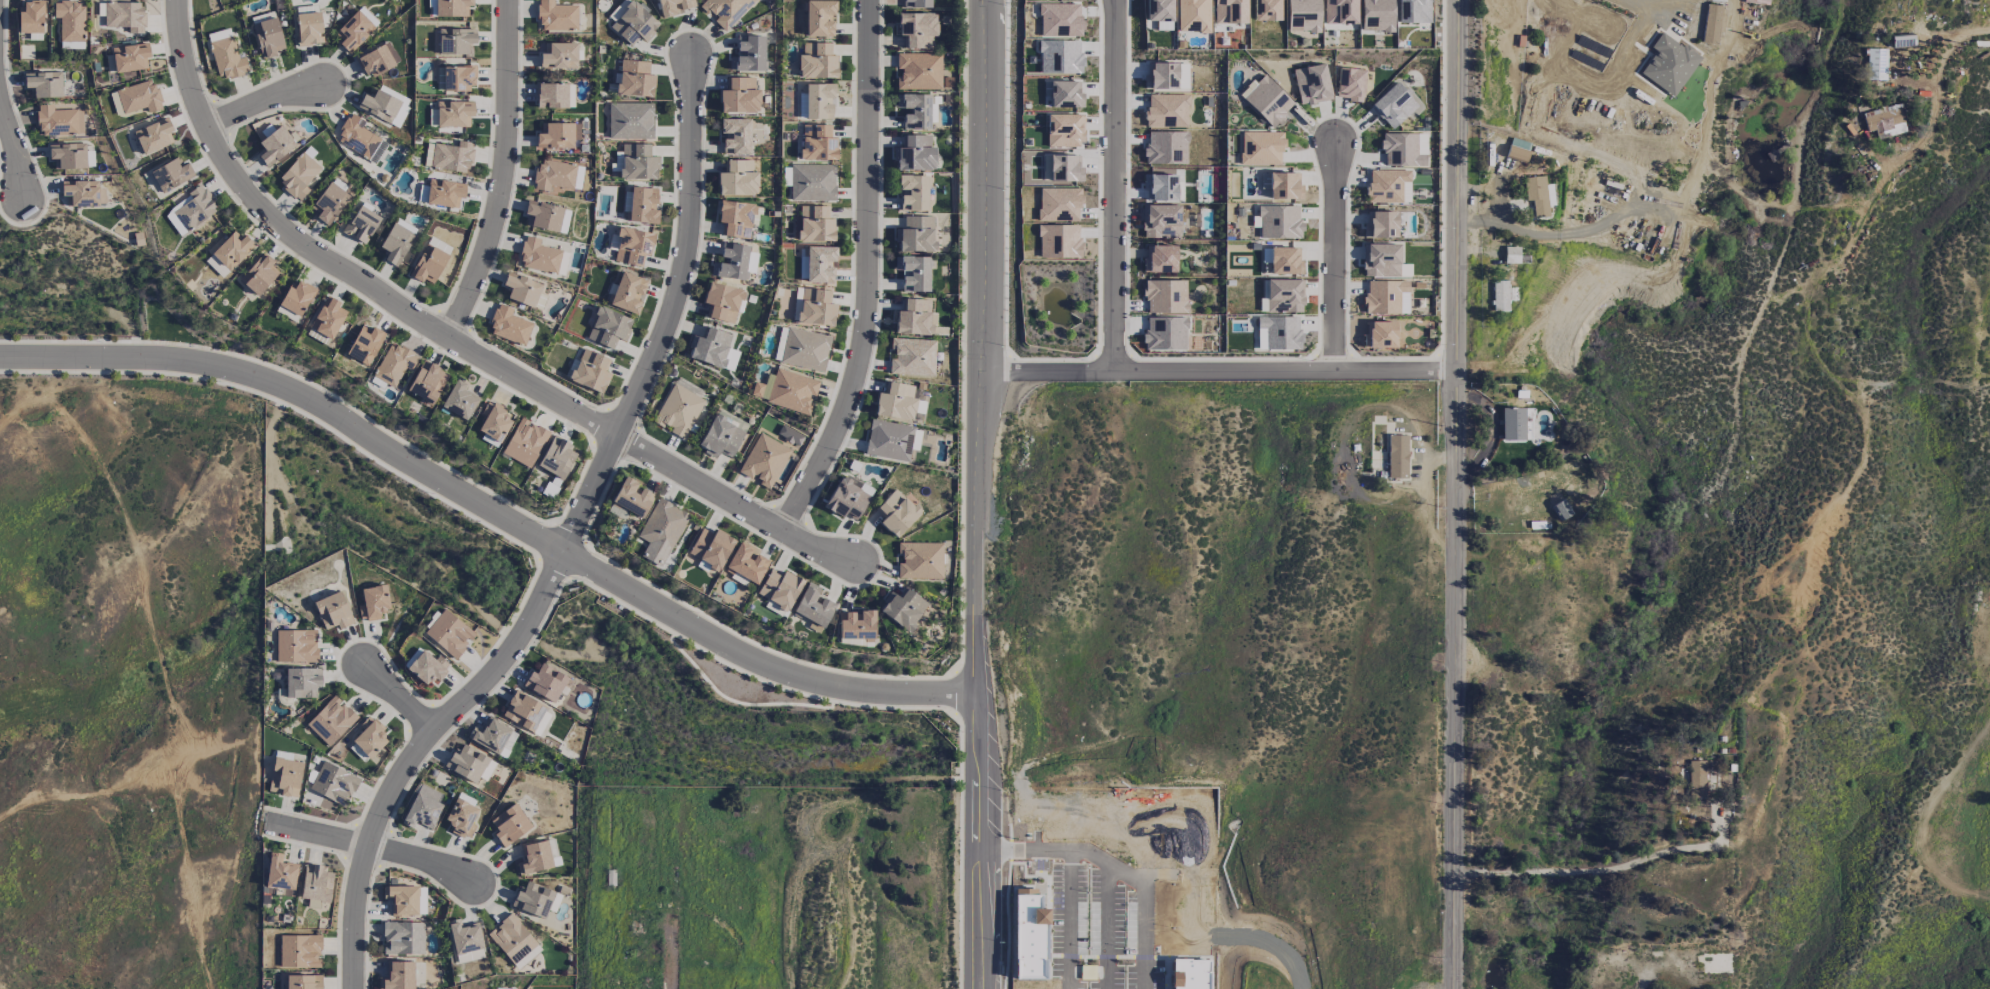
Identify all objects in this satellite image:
building: (1757, 1)
building: (917, 3)
building: (674, 6)
building: (452, 7)
road: (1649, 8)
building: (724, 10)
building: (1158, 10)
building: (1266, 10)
building: (1230, 11)
building: (1339, 11)
building: (1413, 11)
building: (1193, 15)
building: (1303, 15)
building: (1376, 15)
building: (124, 16)
building: (556, 16)
building: (30, 17)
building: (819, 18)
building: (1060, 19)
building: (70, 20)
building: (633, 24)
building: (1711, 24)
building: (308, 29)
building: (917, 30)
building: (353, 31)
building: (218, 34)
building: (267, 37)
building: (455, 40)
building: (748, 53)
building: (558, 55)
building: (130, 57)
building: (1059, 57)
building: (227, 58)
building: (374, 61)
building: (816, 61)
building: (1669, 64)
building: (1875, 64)
building: (919, 71)
building: (1161, 76)
building: (458, 78)
building: (634, 79)
building: (44, 84)
building: (1312, 84)
building: (1350, 84)
road: (1931, 89)
building: (1065, 94)
building: (554, 95)
building: (739, 96)
building: (139, 97)
building: (818, 100)
building: (1268, 101)
road: (263, 102)
building: (379, 105)
building: (1393, 105)
building: (914, 110)
building: (1167, 111)
building: (454, 113)
building: (59, 121)
building: (630, 121)
building: (1884, 121)
building: (1064, 130)
building: (153, 135)
building: (557, 135)
building: (360, 139)
building: (817, 142)
building: (275, 145)
road: (14, 147)
building: (1166, 147)
building: (1261, 148)
building: (1404, 149)
building: (914, 153)
building: (1516, 153)
building: (428, 154)
building: (67, 155)
building: (452, 156)
building: (638, 162)
building: (1062, 168)
road: (502, 173)
building: (171, 174)
road: (9, 175)
building: (553, 175)
building: (298, 176)
building: (578, 177)
building: (737, 178)
building: (812, 182)
road: (1113, 183)
building: (1284, 185)
building: (1388, 186)
building: (1160, 187)
building: (912, 192)
building: (82, 193)
building: (445, 193)
building: (1536, 194)
building: (1549, 194)
building: (328, 203)
building: (1059, 204)
building: (642, 205)
building: (190, 210)
building: (543, 216)
building: (735, 219)
building: (1160, 221)
building: (1279, 222)
building: (361, 224)
building: (1380, 224)
park: (2, 228)
building: (915, 235)
building: (1059, 241)
building: (395, 244)
building: (439, 245)
building: (232, 250)
building: (1511, 255)
building: (538, 256)
building: (1160, 258)
road: (1333, 258)
building: (1285, 260)
building: (1380, 260)
building: (730, 262)
building: (751, 262)
building: (428, 264)
building: (820, 264)
building: (216, 266)
building: (1405, 269)
building: (913, 273)
building: (258, 274)
road: (866, 275)
building: (521, 289)
building: (626, 293)
building: (1284, 295)
building: (1502, 295)
building: (1165, 296)
building: (296, 297)
building: (1386, 297)
building: (721, 302)
building: (816, 307)
building: (286, 313)
building: (327, 317)
building: (914, 317)
building: (508, 325)
building: (608, 328)
road: (963, 328)
building: (1165, 333)
building: (1380, 334)
building: (317, 336)
road: (452, 340)
building: (364, 344)
building: (778, 348)
building: (713, 349)
building: (805, 349)
building: (912, 357)
building: (393, 364)
road: (1043, 367)
road: (1283, 368)
building: (590, 370)
road: (288, 373)
building: (427, 382)
building: (688, 386)
building: (792, 391)
building: (459, 400)
building: (896, 401)
road: (284, 404)
building: (678, 411)
building: (493, 421)
building: (1512, 423)
building: (1528, 423)
road: (1491, 429)
building: (722, 434)
building: (790, 435)
building: (888, 440)
building: (524, 443)
building: (1397, 456)
building: (557, 458)
building: (764, 460)
road: (973, 494)
road: (1455, 494)
building: (848, 498)
building: (629, 499)
road: (490, 508)
building: (896, 513)
road: (562, 521)
road: (571, 530)
building: (660, 531)
road: (544, 538)
road: (566, 543)
building: (711, 547)
road: (537, 550)
road: (589, 551)
building: (920, 560)
road: (582, 562)
building: (746, 564)
road: (553, 572)
road: (576, 575)
building: (779, 588)
building: (373, 602)
building: (813, 607)
building: (902, 608)
building: (332, 611)
building: (449, 634)
road: (757, 645)
building: (296, 646)
road: (964, 662)
building: (424, 667)
road: (750, 674)
building: (302, 682)
building: (547, 682)
park: (740, 685)
road: (957, 693)
road: (400, 699)
road: (738, 701)
road: (945, 706)
building: (331, 721)
building: (490, 735)
building: (370, 737)
building: (469, 764)
building: (284, 777)
building: (1696, 779)
building: (333, 783)
building: (422, 807)
building: (461, 818)
building: (509, 825)
road: (372, 847)
road: (960, 856)
building: (534, 857)
road: (1105, 868)
road: (1601, 869)
building: (279, 874)
building: (315, 883)
building: (532, 899)
building: (402, 900)
building: (464, 937)
building: (402, 938)
building: (514, 941)
building: (299, 951)
building: (397, 976)
building: (303, 982)

